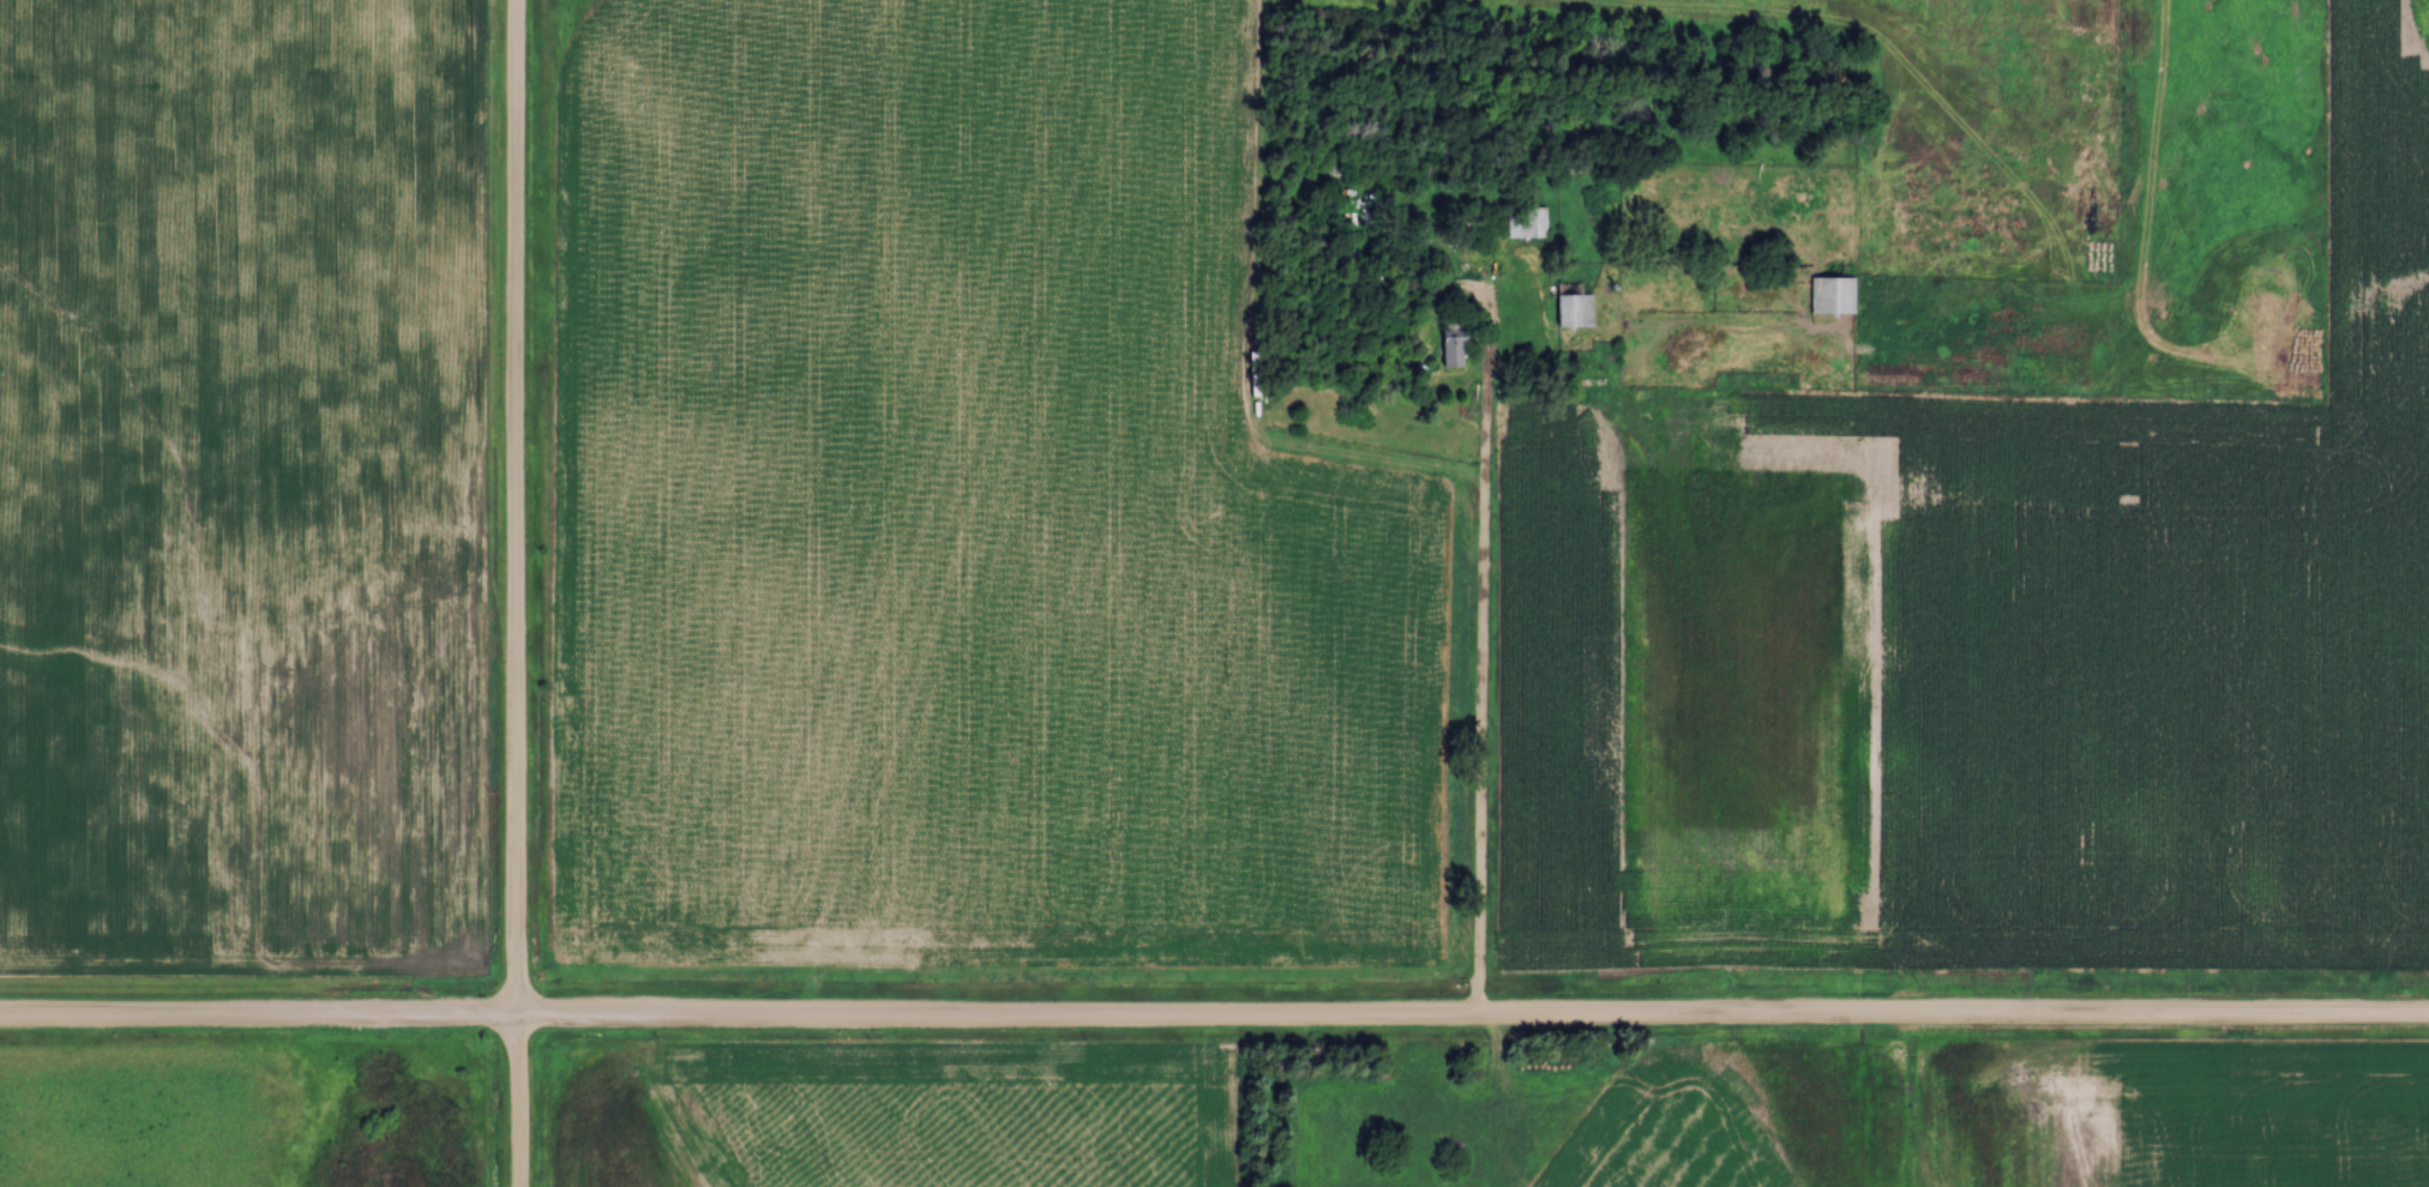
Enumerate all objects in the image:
building: (1529, 223)
building: (1836, 295)
building: (1585, 311)
building: (1455, 354)
road: (515, 592)
road: (1479, 644)
road: (1214, 1020)

